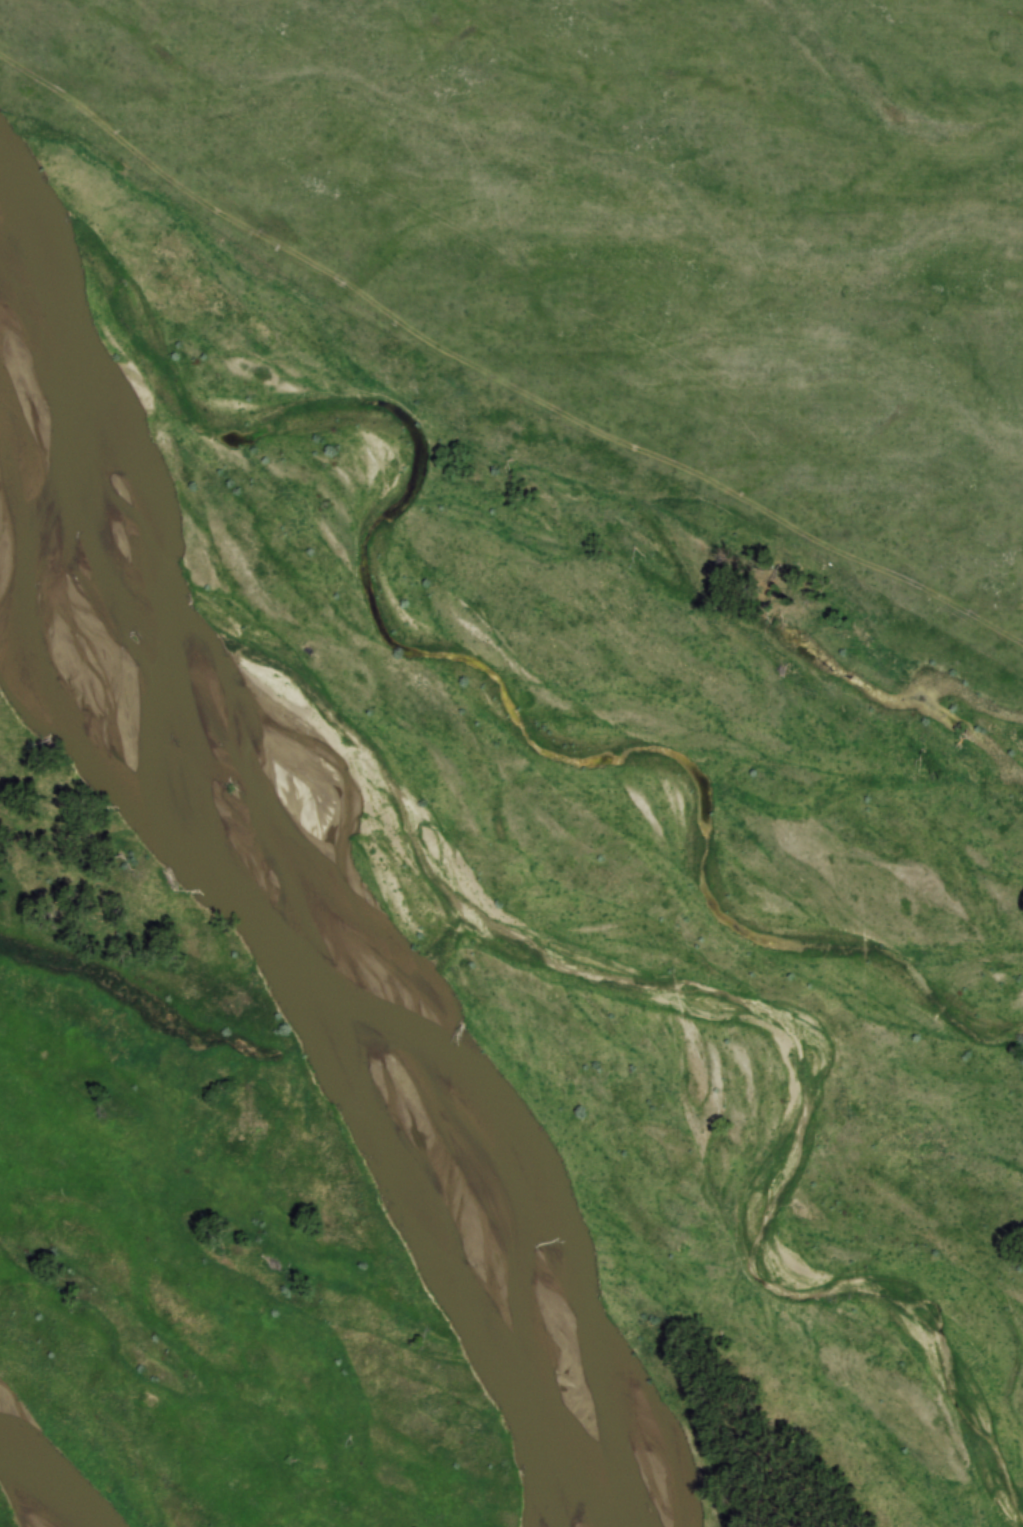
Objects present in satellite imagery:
river: (281, 905)

